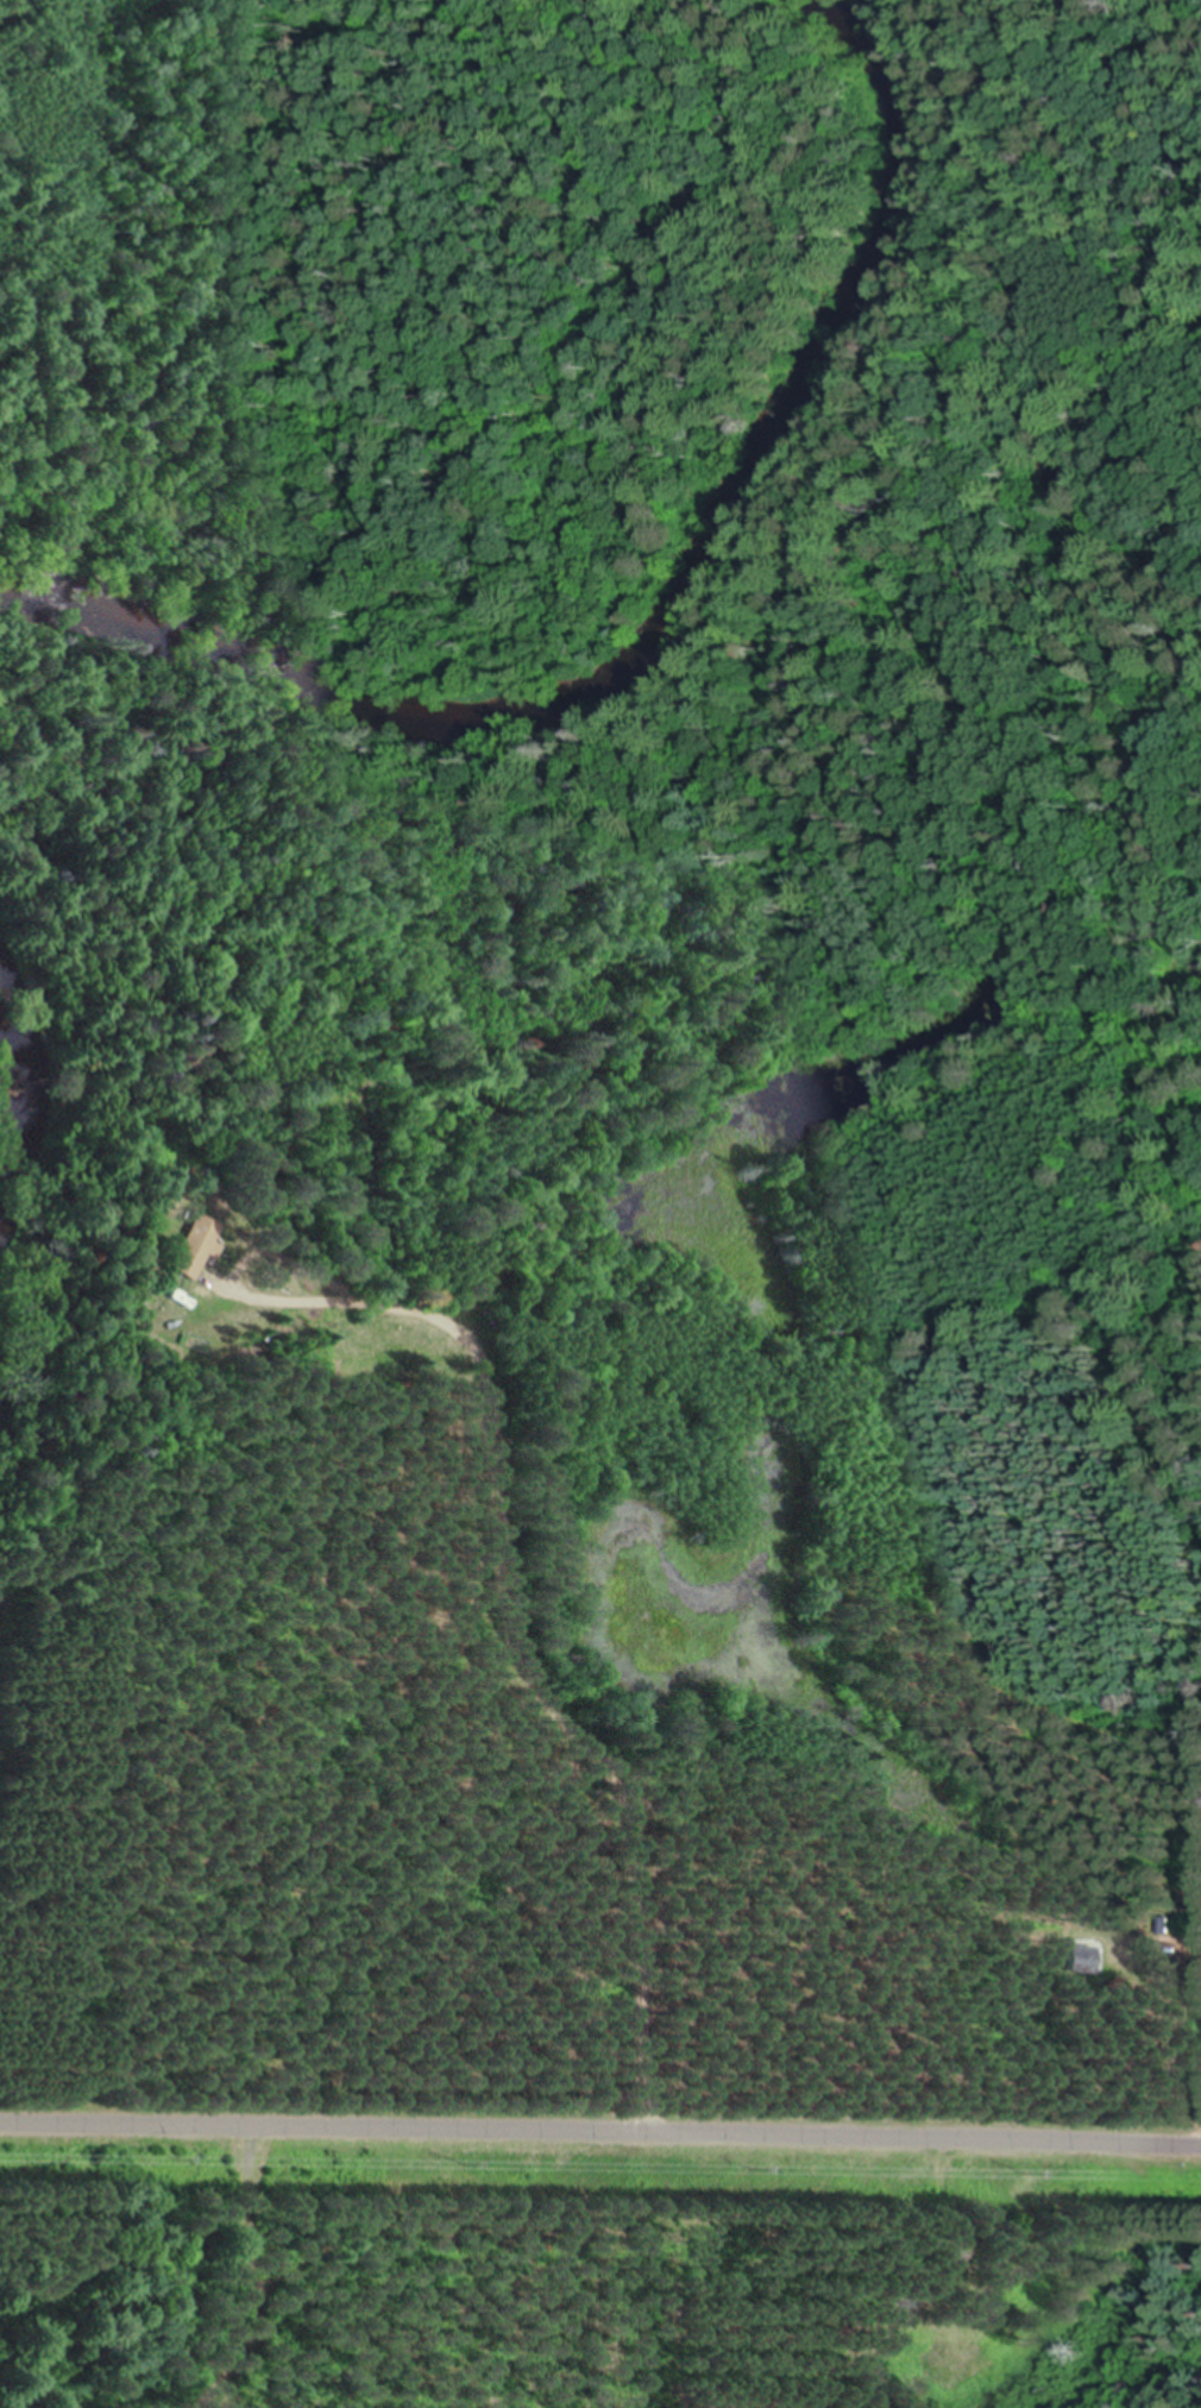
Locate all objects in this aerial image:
river: (658, 627)
road: (600, 2131)

